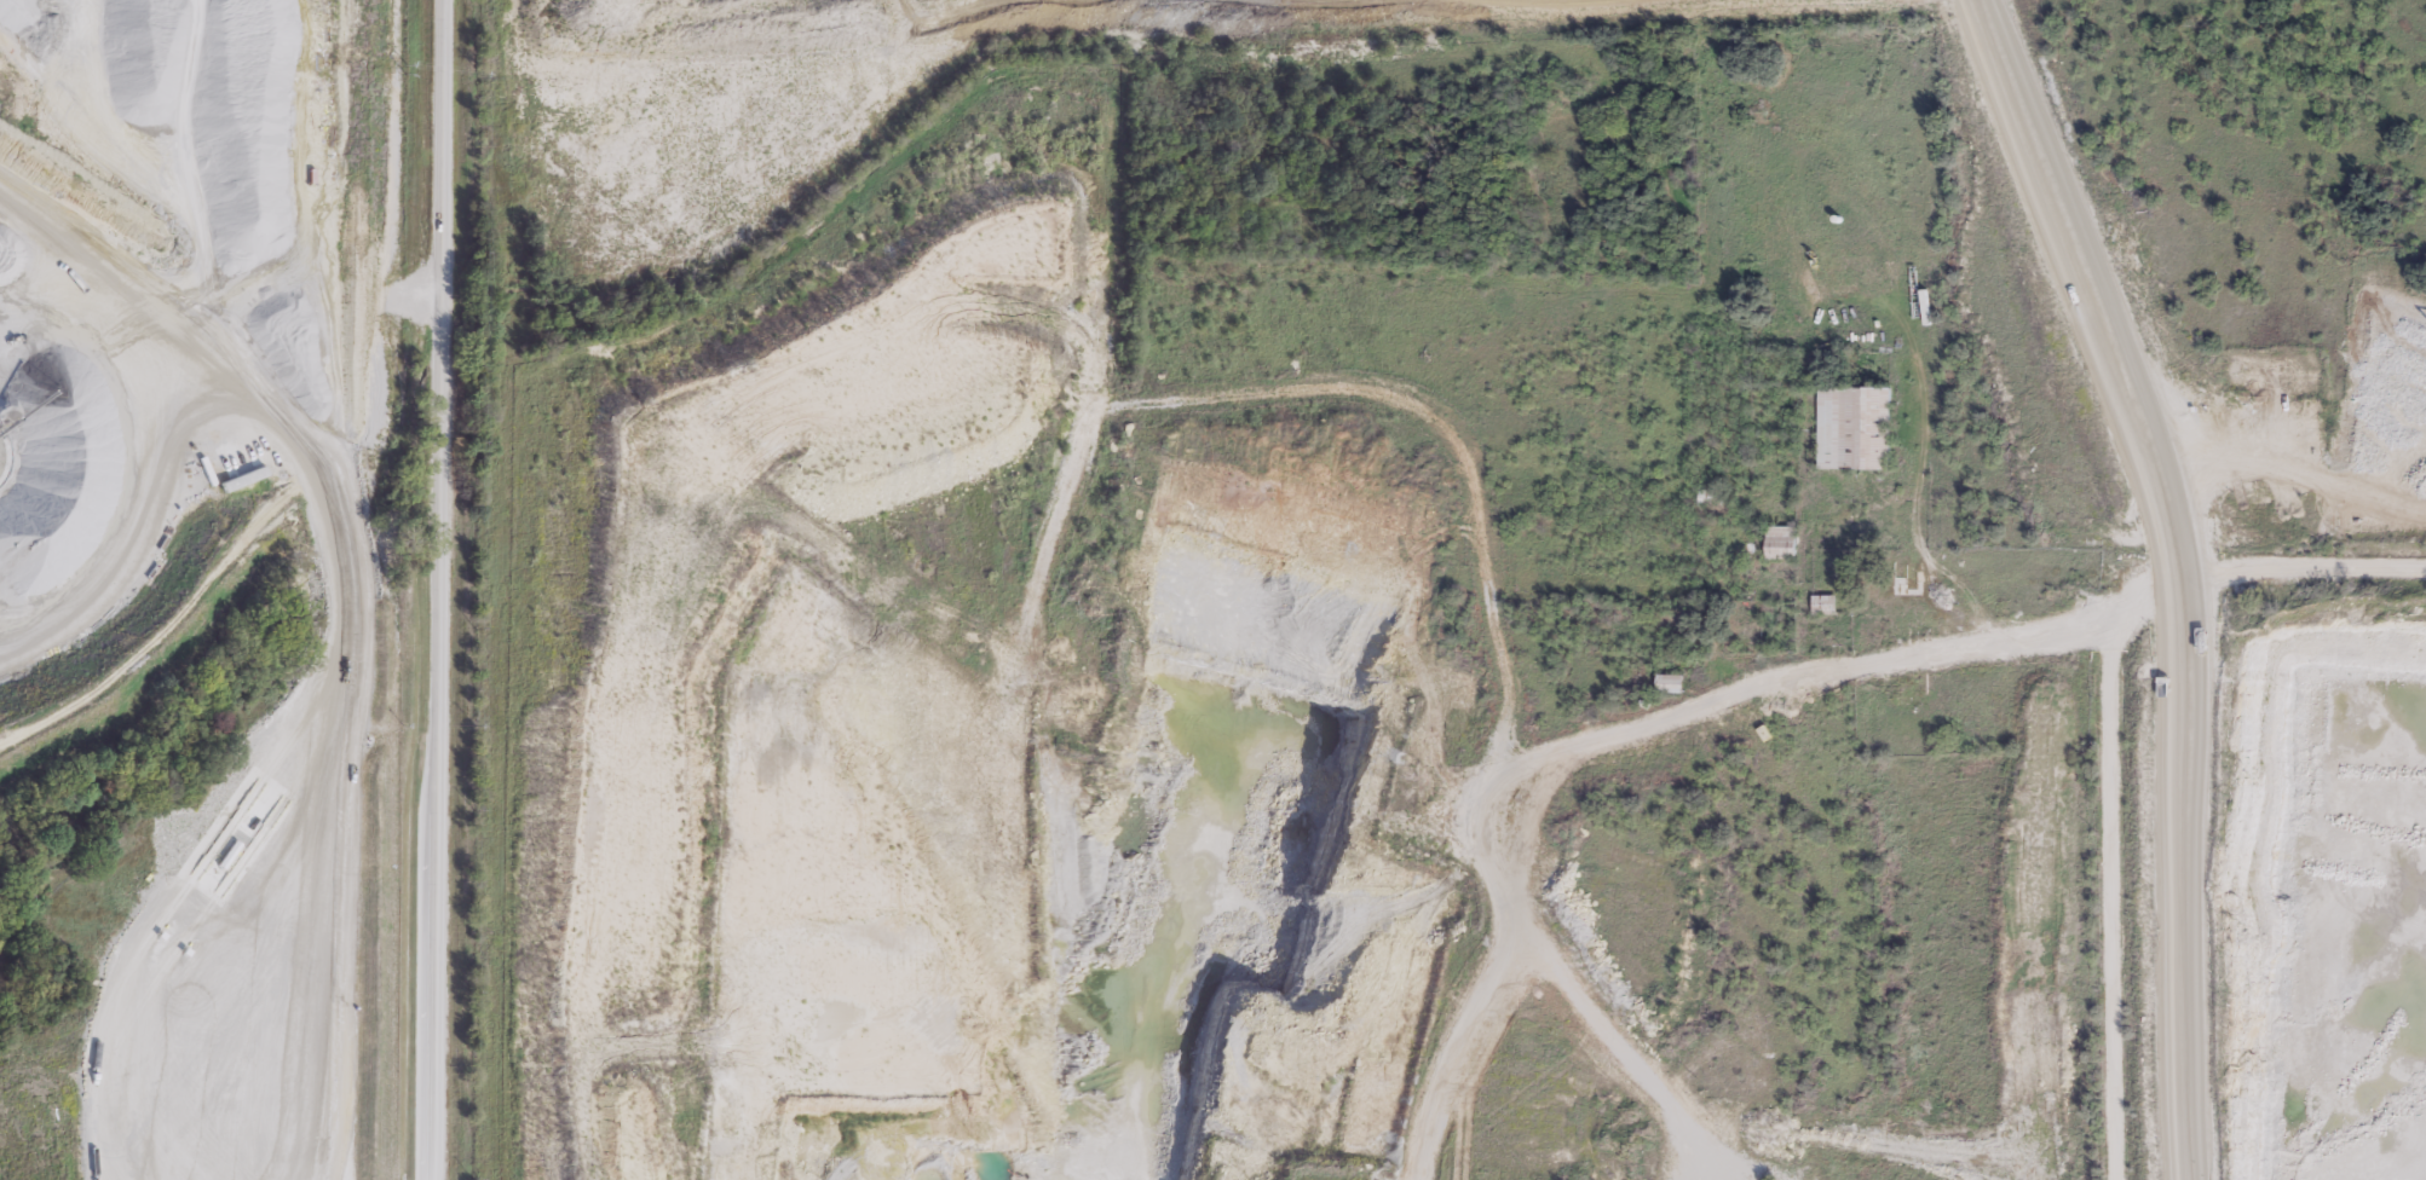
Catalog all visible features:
road: (2085, 283)
building: (1855, 426)
building: (1711, 497)
building: (1782, 540)
road: (2299, 566)
building: (1908, 577)
road: (375, 588)
road: (439, 590)
building: (1825, 602)
quarry: (607, 648)
building: (2411, 665)
road: (1842, 666)
building: (1671, 681)
building: (1912, 689)
road: (2109, 863)
road: (2179, 877)
quarry: (2304, 920)

